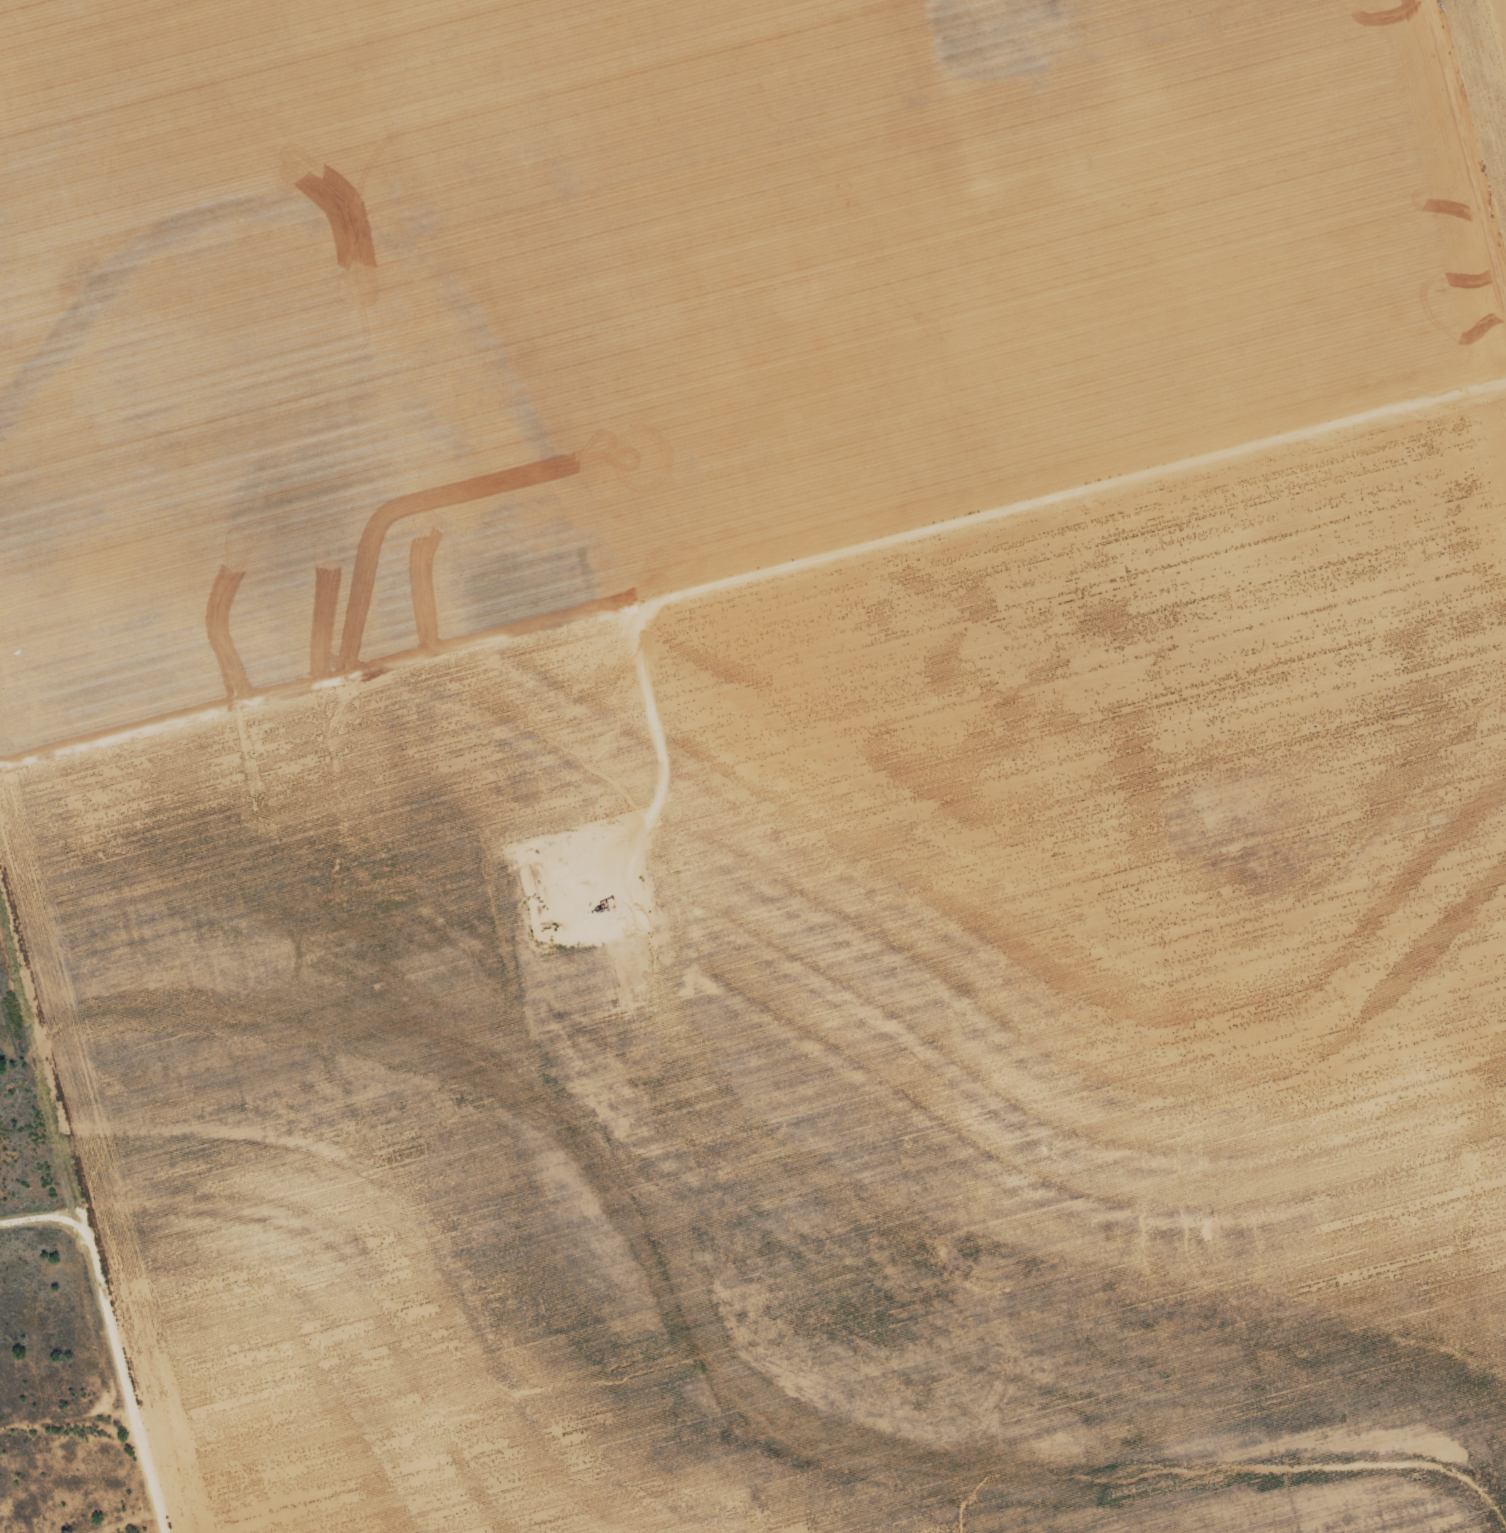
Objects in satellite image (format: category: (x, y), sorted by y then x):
road: (1468, 138)

